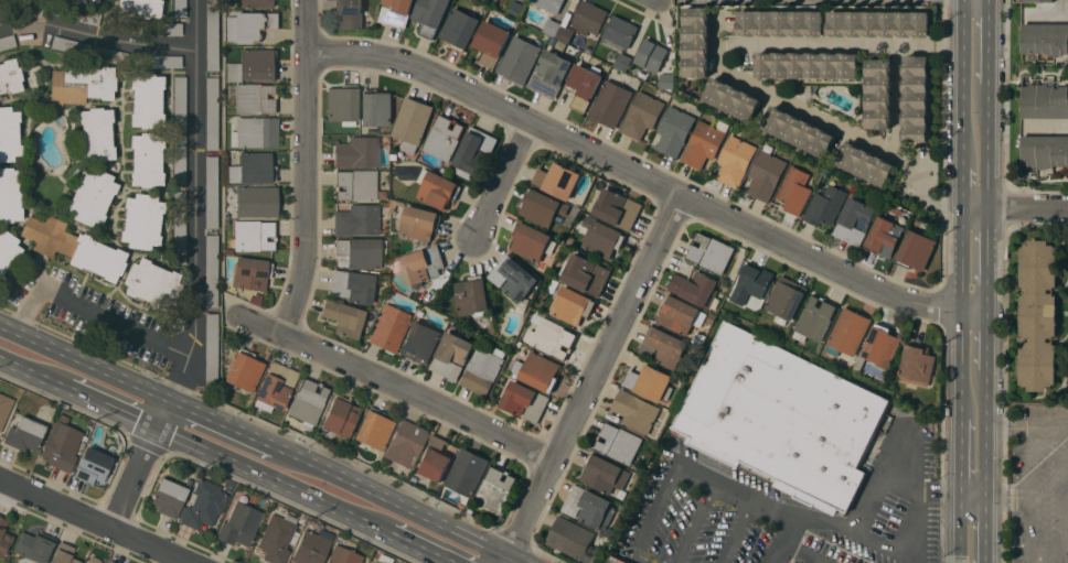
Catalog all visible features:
building: (1037, 0)
building: (82, 1)
building: (93, 1)
building: (256, 3)
building: (549, 4)
building: (140, 8)
building: (179, 8)
road: (1067, 9)
building: (516, 10)
building: (395, 12)
building: (76, 13)
building: (349, 13)
building: (430, 15)
building: (588, 18)
road: (1048, 19)
building: (122, 23)
building: (780, 23)
building: (878, 23)
building: (253, 24)
building: (163, 29)
building: (459, 29)
building: (558, 30)
building: (212, 34)
road: (97, 36)
building: (1045, 37)
building: (619, 39)
building: (7, 41)
road: (989, 41)
building: (490, 42)
building: (695, 42)
road: (716, 43)
road: (807, 44)
building: (71, 45)
road: (931, 46)
building: (109, 54)
building: (651, 55)
building: (519, 59)
building: (157, 61)
building: (253, 65)
building: (807, 65)
building: (549, 74)
building: (10, 76)
road: (963, 80)
building: (666, 82)
building: (82, 84)
building: (584, 86)
building: (878, 94)
building: (255, 97)
building: (915, 98)
building: (146, 99)
building: (730, 99)
road: (898, 101)
building: (1045, 101)
building: (342, 102)
building: (610, 104)
building: (375, 108)
building: (212, 112)
road: (803, 112)
building: (641, 115)
building: (412, 123)
building: (179, 129)
road: (1047, 129)
building: (255, 131)
building: (673, 131)
building: (798, 131)
building: (9, 133)
building: (96, 133)
building: (445, 137)
building: (704, 143)
road: (987, 145)
building: (1044, 150)
building: (357, 151)
building: (473, 152)
building: (147, 159)
building: (735, 160)
building: (866, 164)
building: (253, 169)
road: (308, 170)
road: (638, 173)
building: (765, 175)
road: (912, 175)
road: (196, 177)
road: (505, 180)
building: (558, 180)
building: (355, 184)
road: (962, 185)
building: (437, 190)
building: (793, 190)
building: (211, 191)
building: (10, 194)
building: (92, 196)
building: (256, 201)
building: (825, 204)
building: (542, 208)
building: (617, 208)
road: (974, 208)
road: (1027, 208)
building: (357, 219)
building: (141, 220)
building: (854, 221)
building: (419, 223)
building: (179, 227)
building: (255, 235)
building: (884, 236)
building: (602, 239)
building: (533, 242)
building: (74, 246)
road: (986, 247)
building: (7, 249)
building: (916, 250)
building: (360, 251)
building: (711, 252)
road: (962, 258)
building: (420, 266)
building: (211, 270)
building: (250, 272)
building: (585, 274)
building: (513, 278)
building: (152, 282)
building: (752, 283)
building: (352, 285)
building: (697, 289)
building: (472, 295)
road: (985, 296)
building: (786, 299)
building: (570, 305)
road: (973, 308)
building: (680, 315)
building: (1037, 315)
building: (343, 317)
building: (816, 317)
building: (712, 318)
road: (116, 321)
building: (389, 327)
building: (848, 332)
building: (552, 338)
road: (985, 338)
building: (419, 343)
building: (663, 347)
building: (879, 347)
building: (211, 348)
building: (451, 355)
road: (85, 362)
road: (962, 364)
building: (917, 365)
building: (516, 368)
building: (244, 370)
building: (482, 371)
building: (540, 371)
road: (33, 375)
road: (597, 375)
building: (650, 381)
building: (275, 386)
road: (402, 389)
building: (524, 401)
building: (308, 402)
building: (4, 408)
road: (113, 409)
building: (636, 410)
building: (341, 416)
building: (782, 418)
road: (221, 424)
road: (1045, 425)
building: (374, 429)
road: (985, 431)
building: (24, 433)
building: (406, 443)
building: (618, 443)
building: (61, 444)
road: (961, 456)
building: (434, 459)
building: (93, 465)
road: (1027, 465)
road: (142, 466)
building: (467, 474)
building: (604, 474)
road: (265, 478)
building: (495, 489)
road: (736, 490)
road: (920, 490)
road: (973, 494)
building: (168, 497)
road: (392, 501)
building: (204, 504)
road: (1032, 506)
building: (589, 507)
road: (655, 513)
road: (93, 521)
road: (694, 521)
road: (1067, 522)
road: (839, 523)
building: (239, 524)
road: (961, 528)
road: (984, 528)
building: (7, 534)
building: (277, 537)
building: (574, 539)
building: (34, 545)
road: (409, 545)
building: (311, 546)
road: (791, 549)
building: (63, 554)
building: (343, 555)
road: (510, 559)
road: (520, 559)
building: (93, 560)
building: (613, 560)
building: (622, 560)
building: (108, 562)
building: (377, 562)

